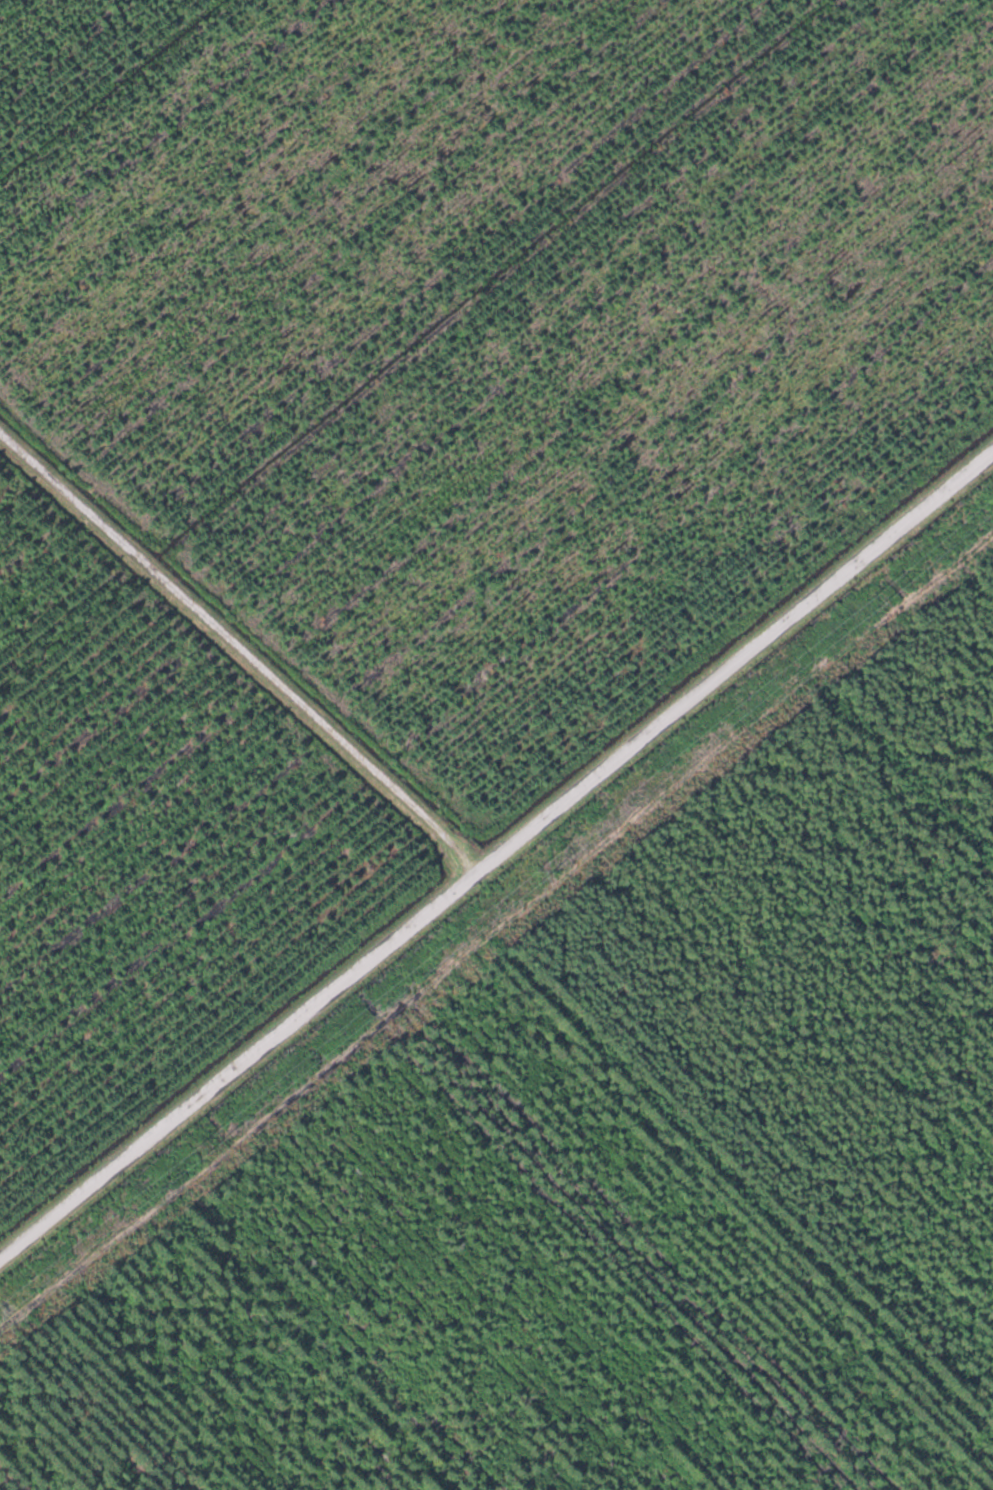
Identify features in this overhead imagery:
power tower: (886, 600)
road: (237, 657)
road: (497, 856)
power tower: (544, 875)
power tower: (205, 1151)

